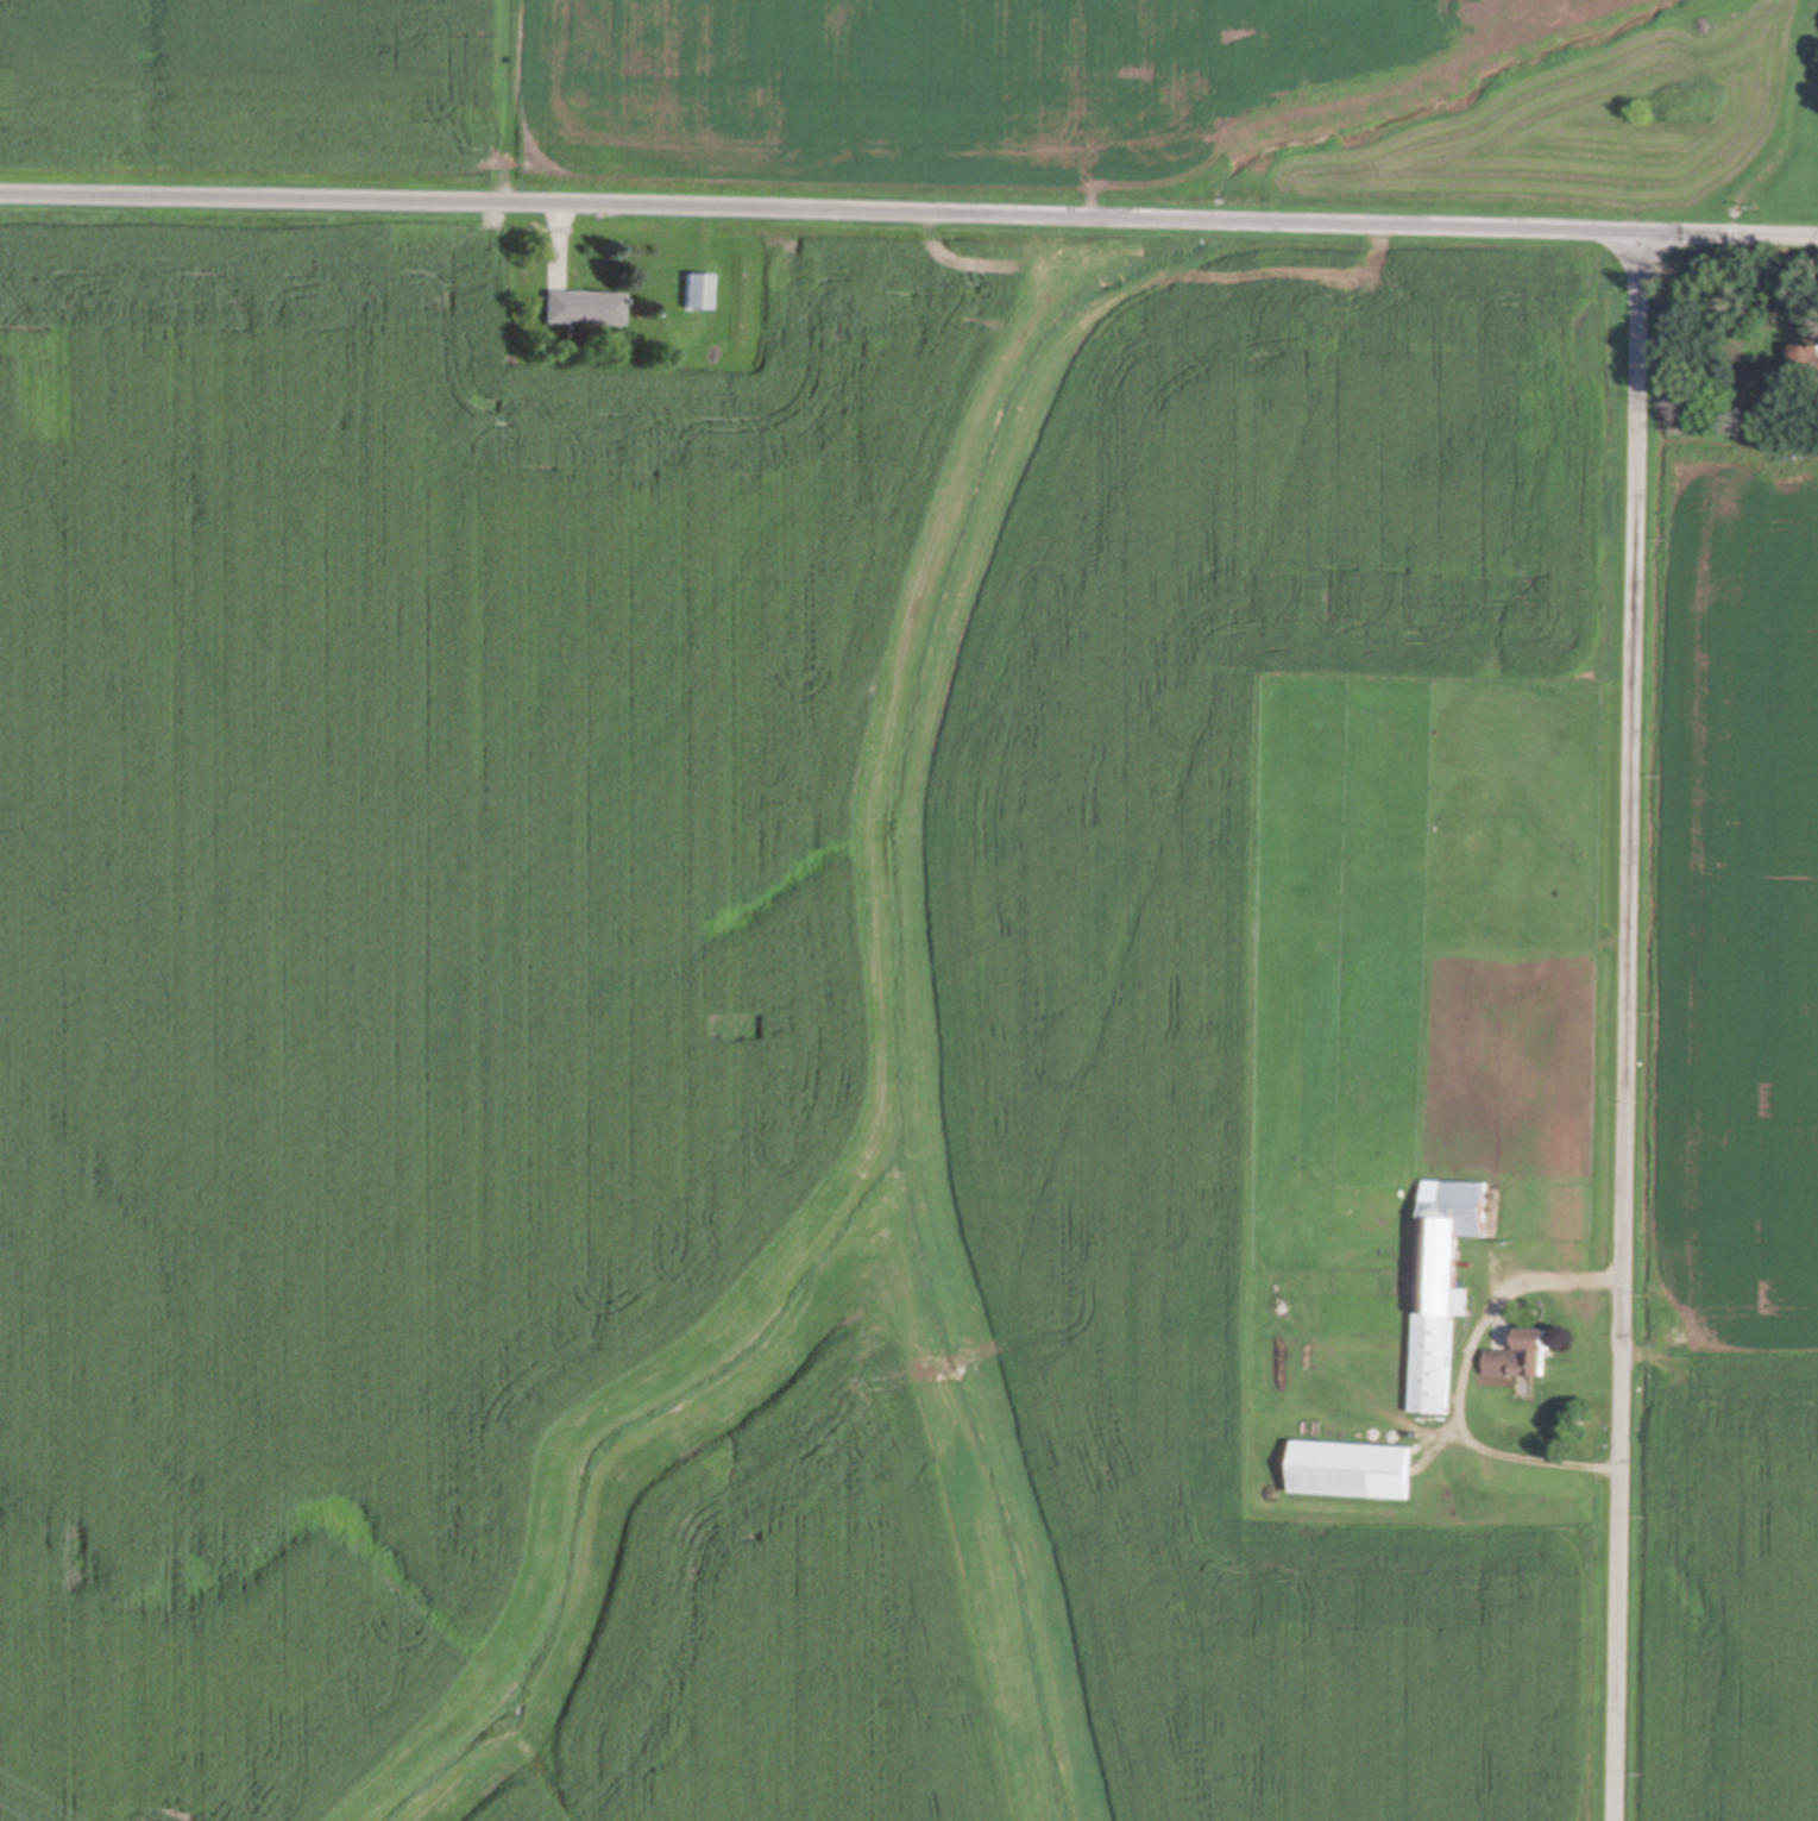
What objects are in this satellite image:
road: (908, 213)
building: (697, 285)
building: (583, 302)
building: (655, 347)
building: (1807, 350)
building: (1798, 387)
road: (1630, 1028)
building: (1409, 1264)
building: (1445, 1274)
building: (1407, 1286)
building: (1524, 1351)
road: (1464, 1373)
building: (1355, 1467)

